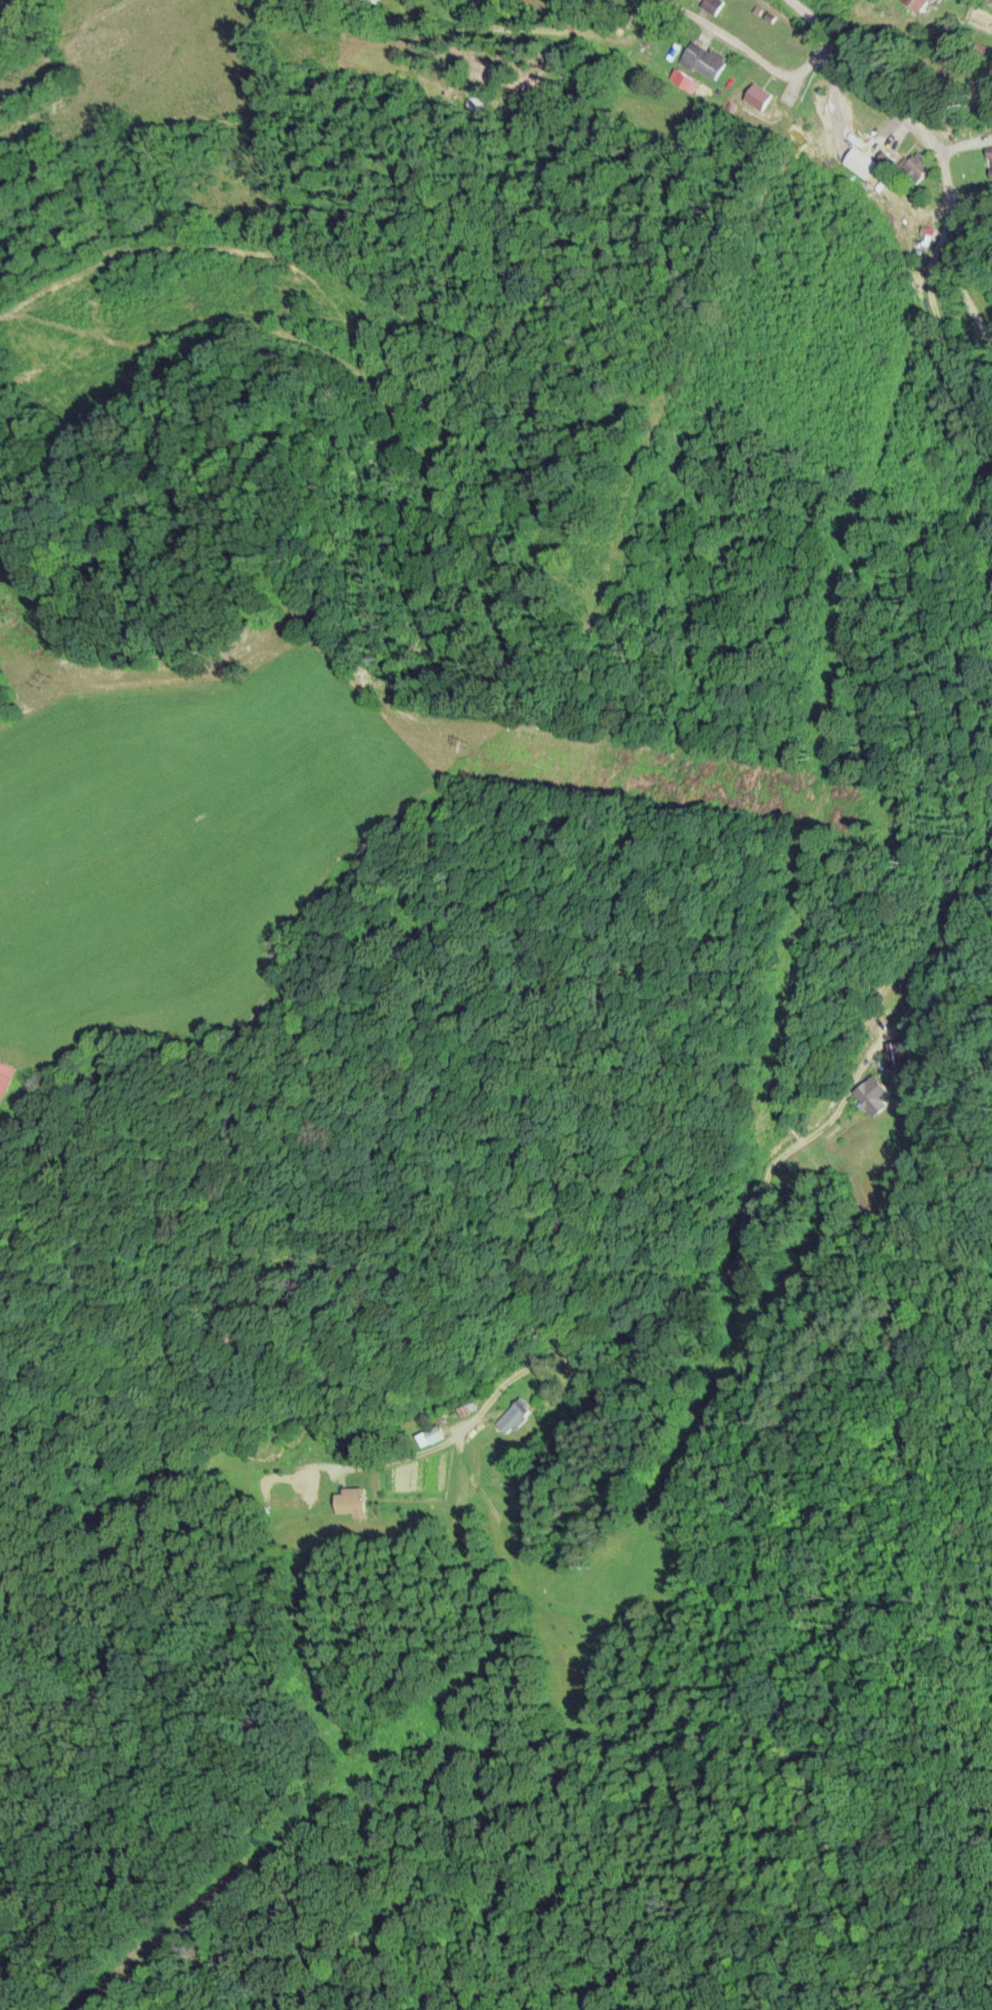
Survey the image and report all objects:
building: (930, 2)
building: (715, 4)
road: (504, 29)
road: (750, 46)
building: (705, 59)
road: (955, 117)
road: (947, 207)
road: (971, 227)
power tower: (53, 677)
power tower: (474, 741)
building: (6, 1077)
building: (873, 1091)
road: (744, 1222)
building: (434, 1433)

